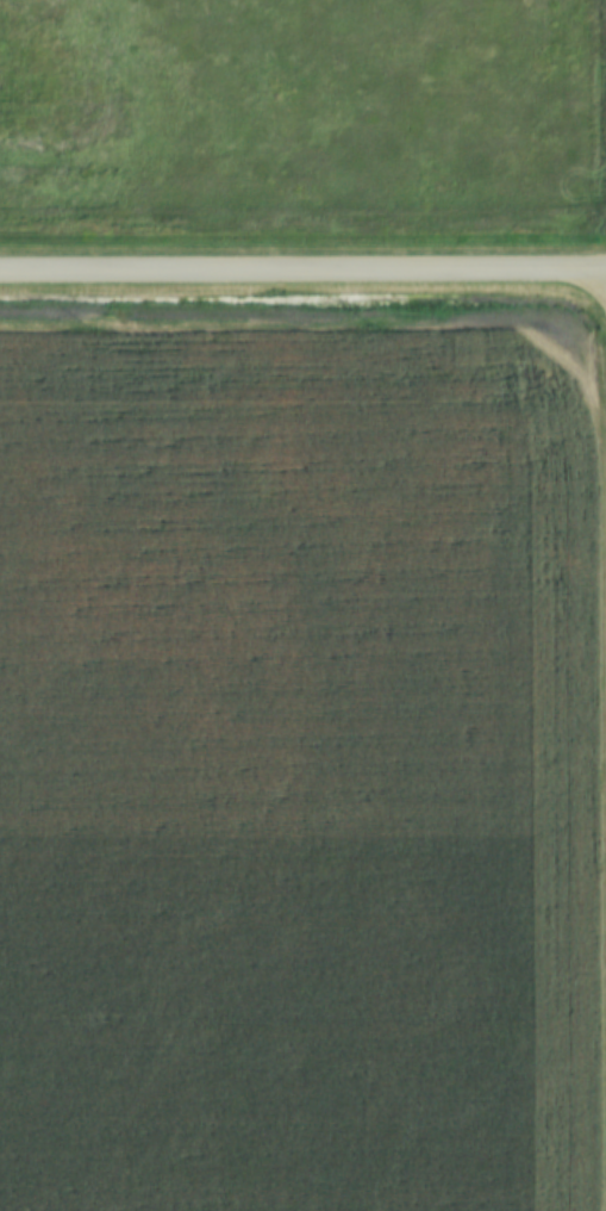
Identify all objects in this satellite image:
road: (302, 275)

